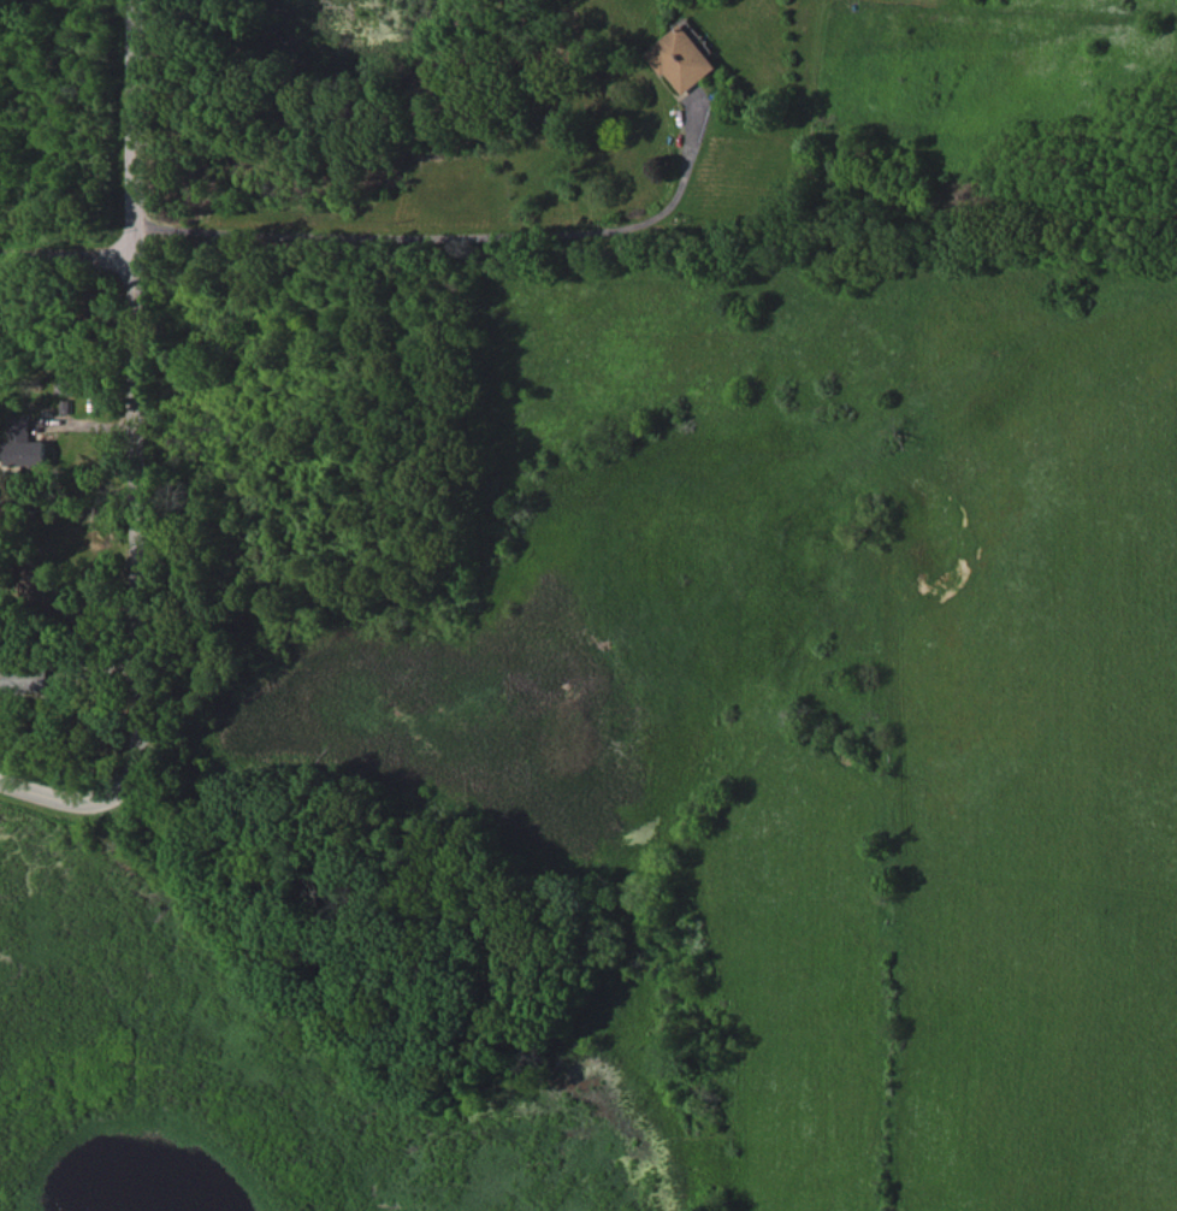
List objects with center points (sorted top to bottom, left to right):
building: (682, 58)
road: (449, 225)
road: (64, 258)
building: (24, 443)
road: (130, 462)
building: (25, 679)

